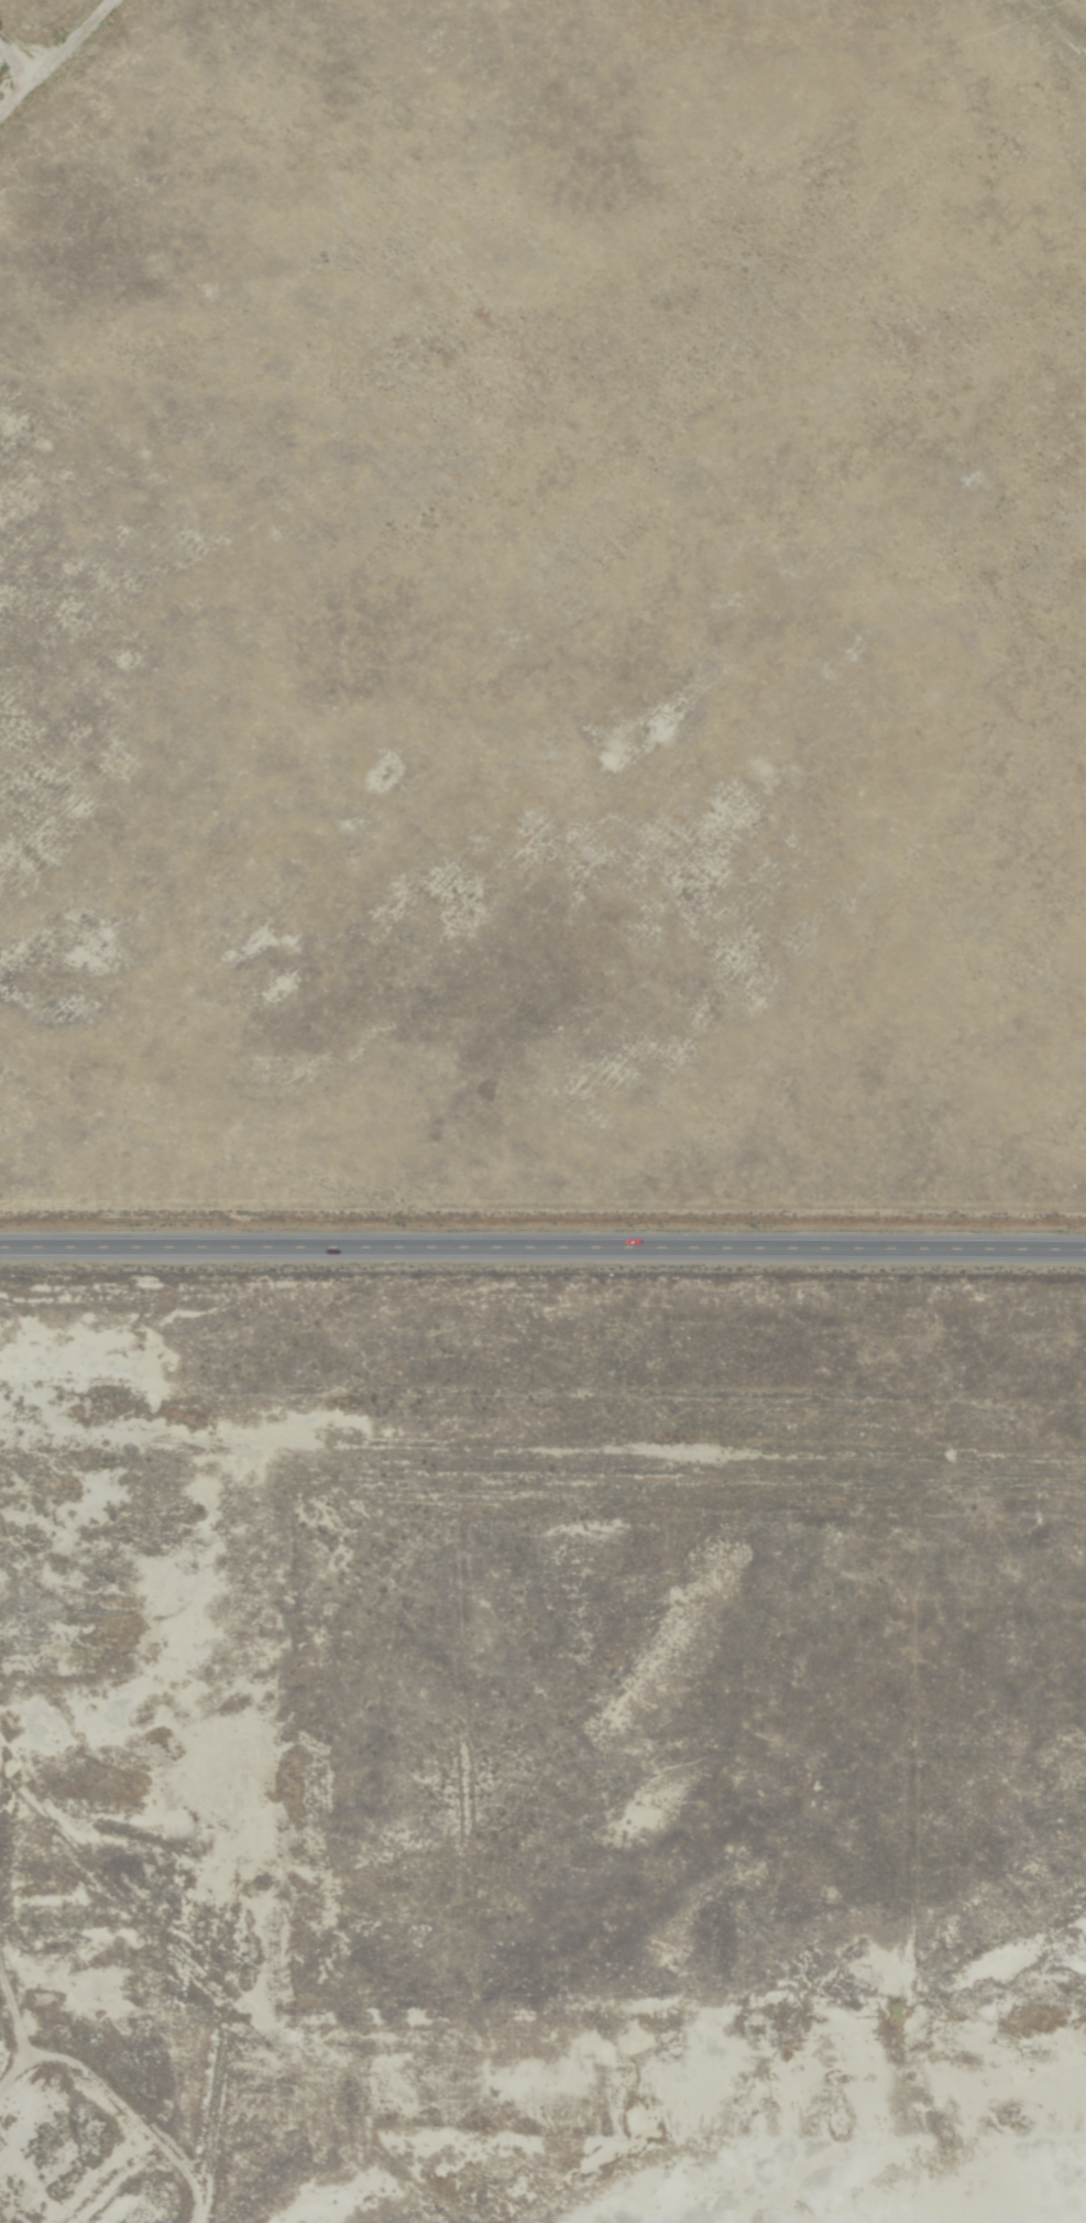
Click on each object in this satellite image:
road: (1058, 26)
road: (51, 50)
road: (12, 62)
road: (542, 1249)
road: (66, 1890)
road: (147, 2077)

